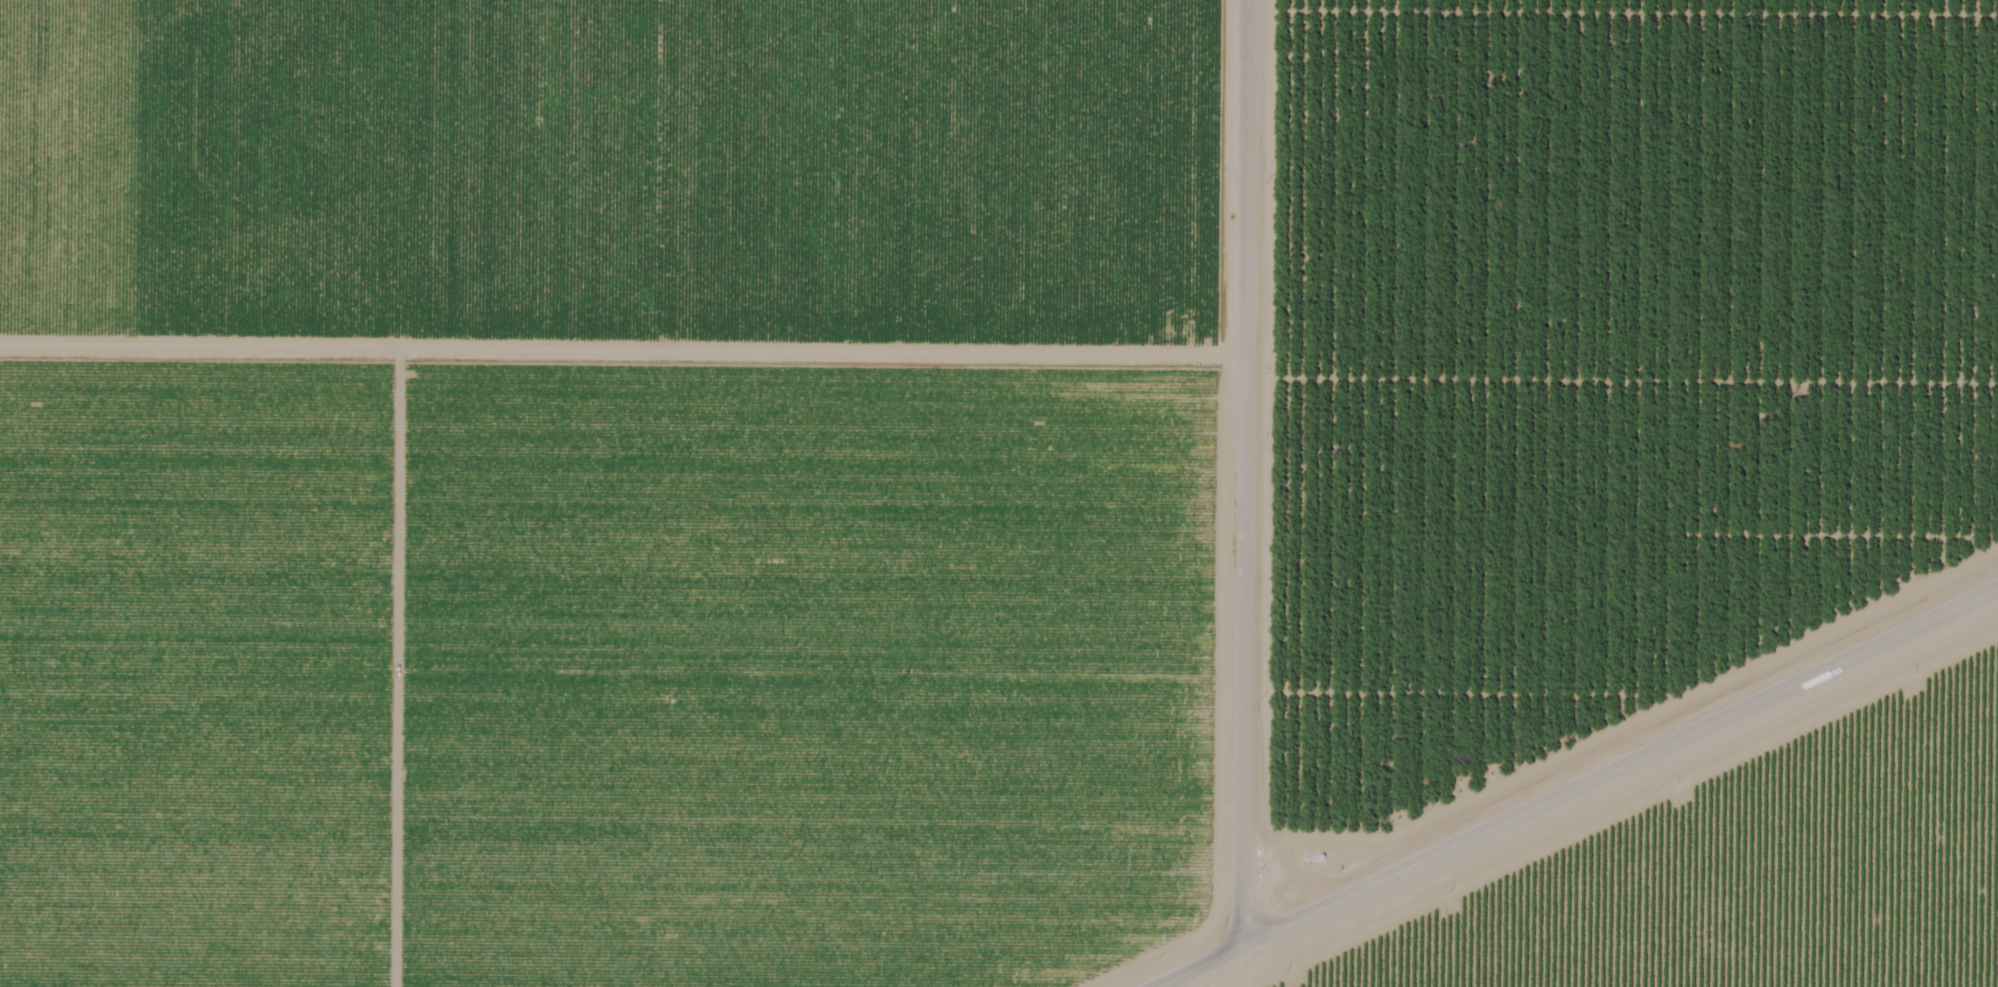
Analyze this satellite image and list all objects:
crop: (639, 176)
crop: (1663, 182)
road: (621, 343)
road: (1241, 493)
crop: (1604, 546)
crop: (620, 664)
road: (1581, 790)

